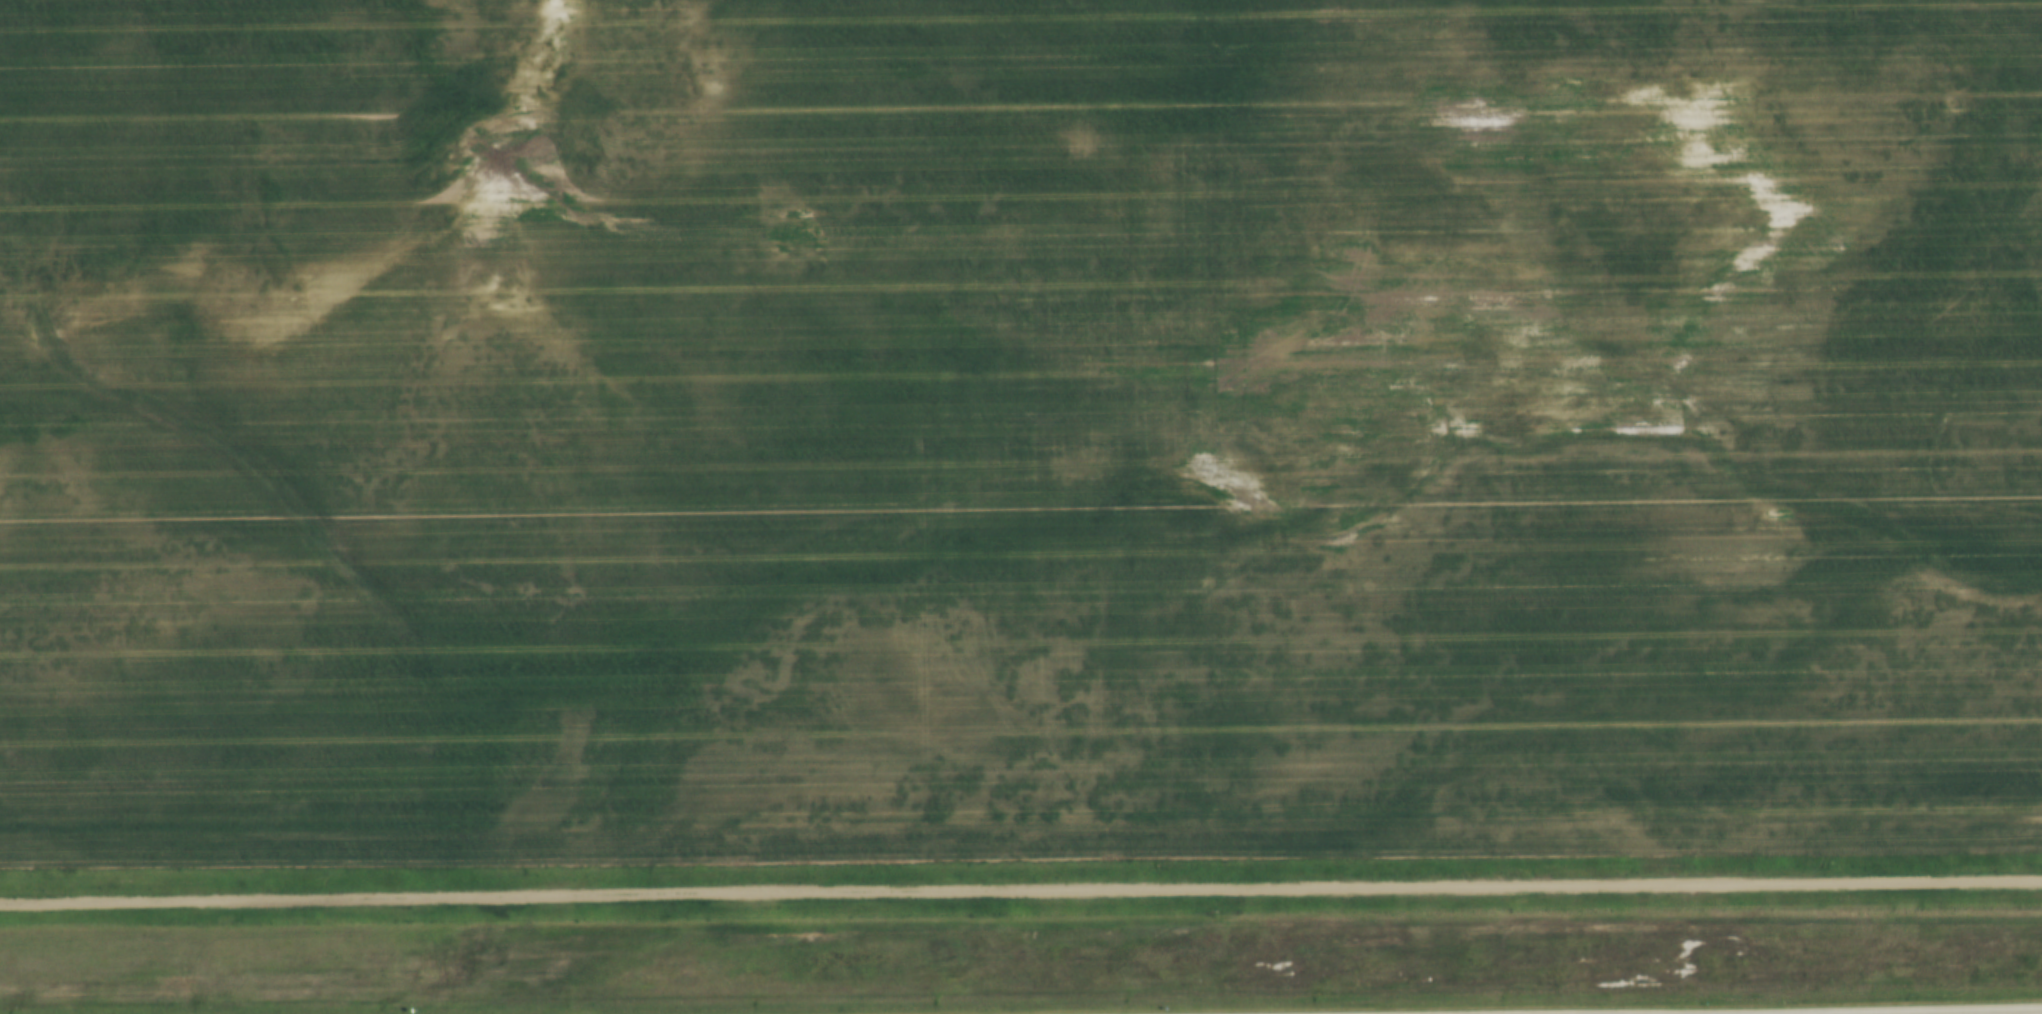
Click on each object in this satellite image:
road: (1021, 887)

